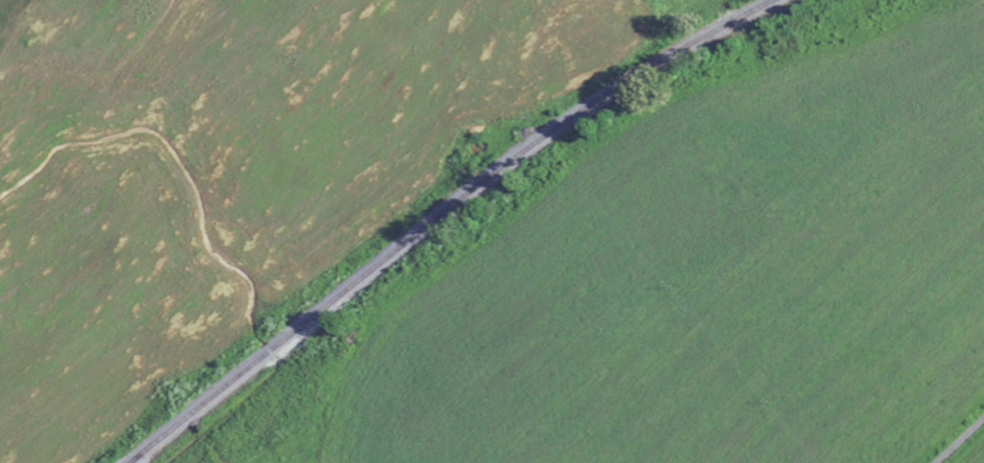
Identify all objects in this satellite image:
railway: (439, 216)

